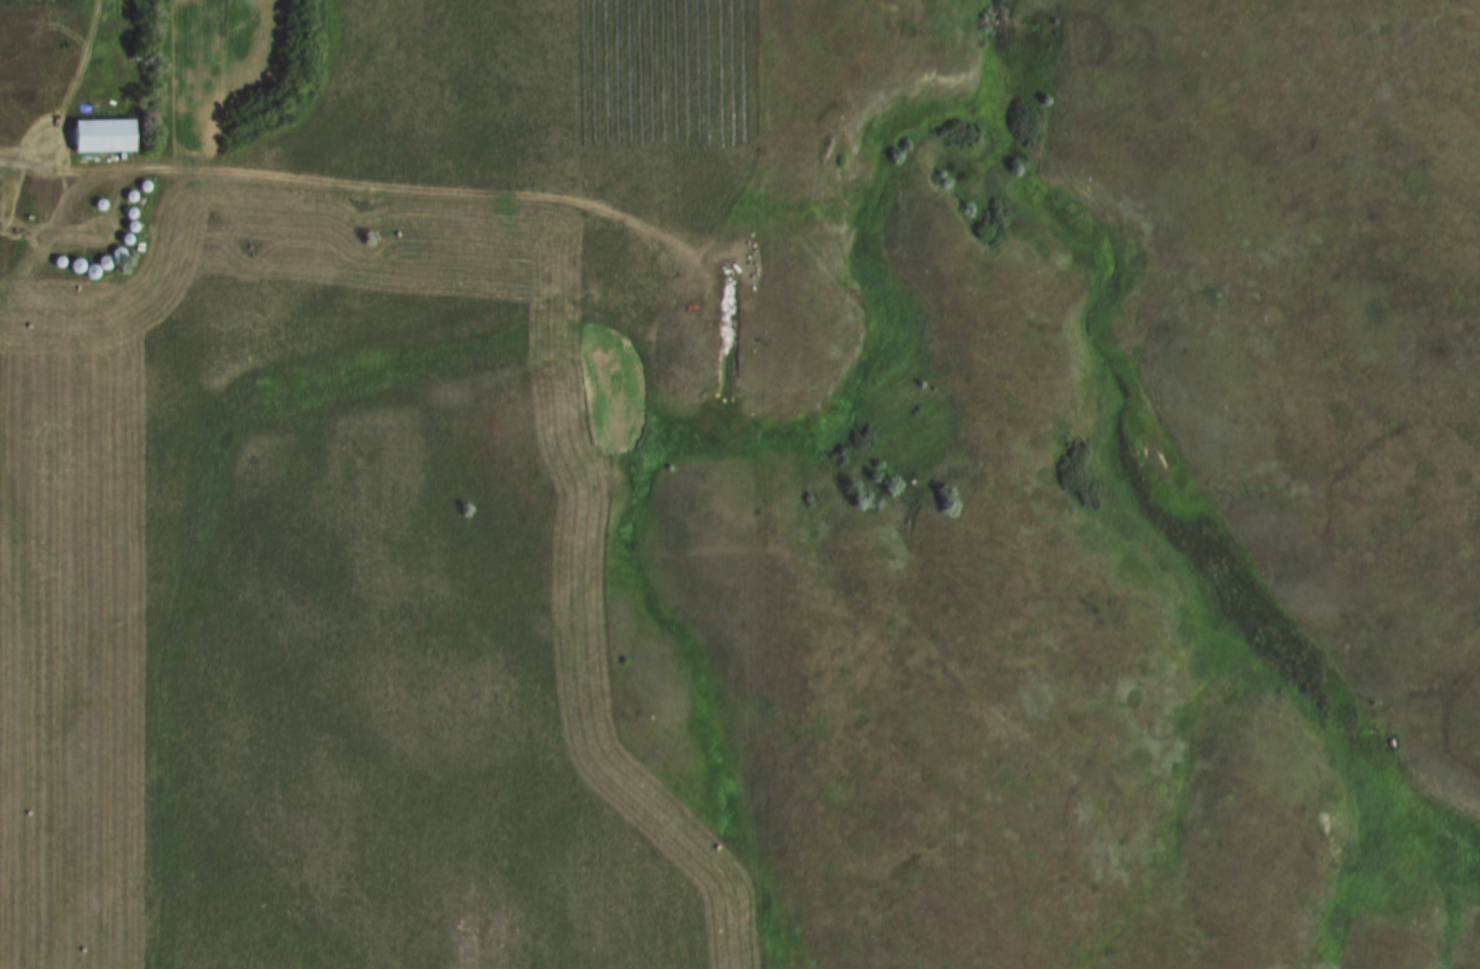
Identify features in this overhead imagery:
building: (106, 136)

